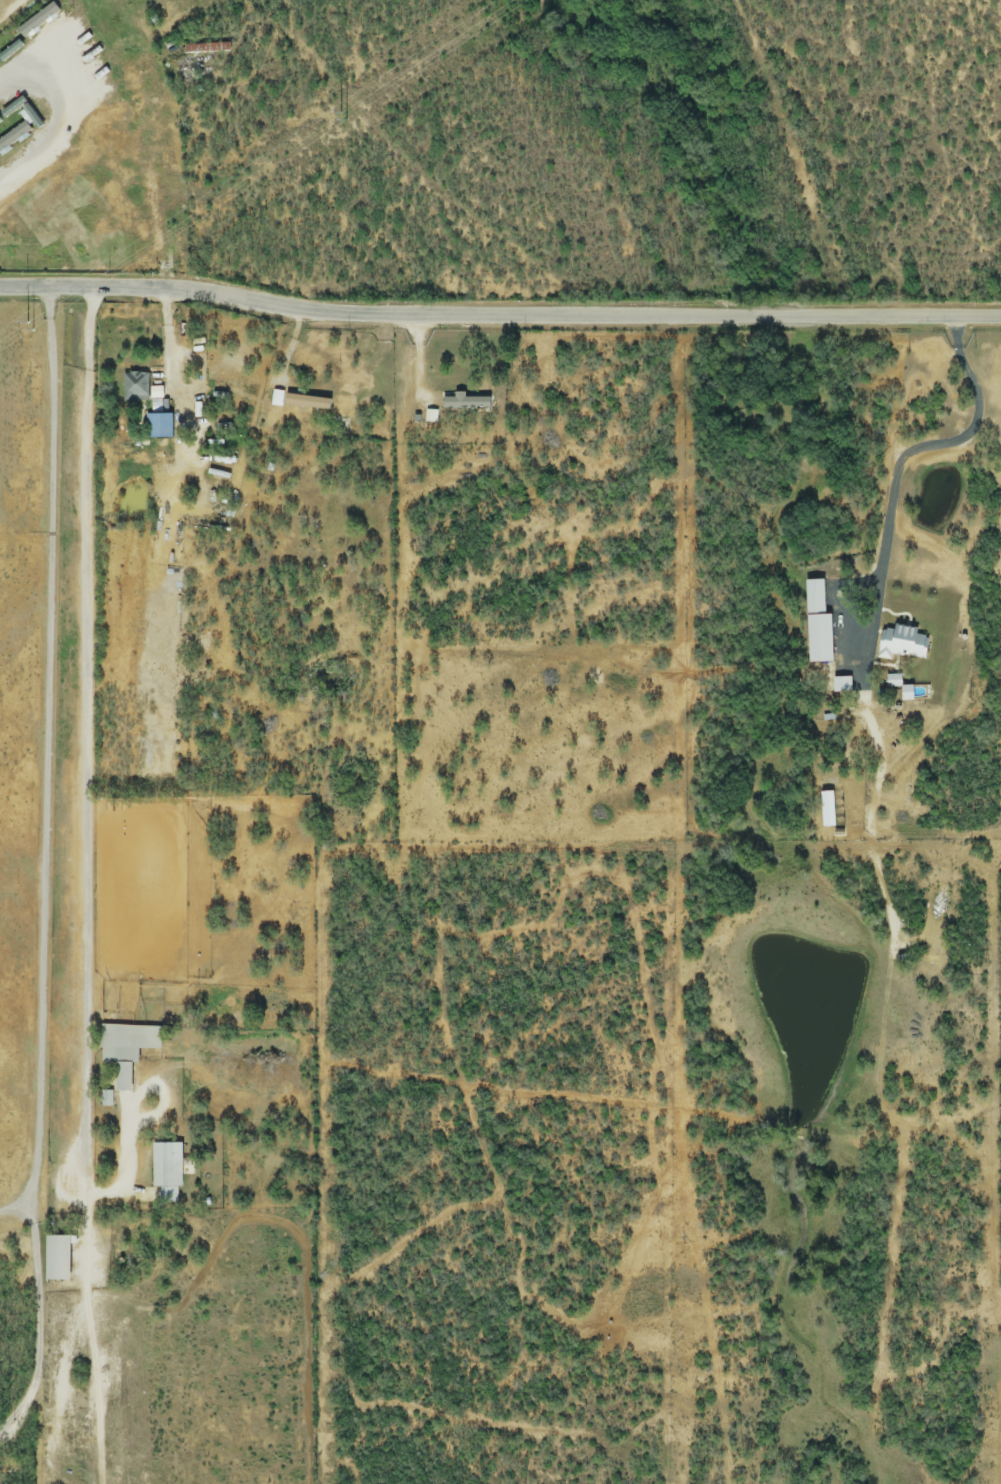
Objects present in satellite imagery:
power tower: (348, 114)
road: (66, 119)
building: (125, 140)
power tower: (71, 309)
road: (499, 316)
building: (136, 387)
road: (910, 455)
building: (818, 625)
building: (902, 643)
building: (842, 685)
road: (84, 739)
road: (47, 869)
building: (128, 1050)
building: (169, 1162)
building: (60, 1257)
road: (100, 1337)

